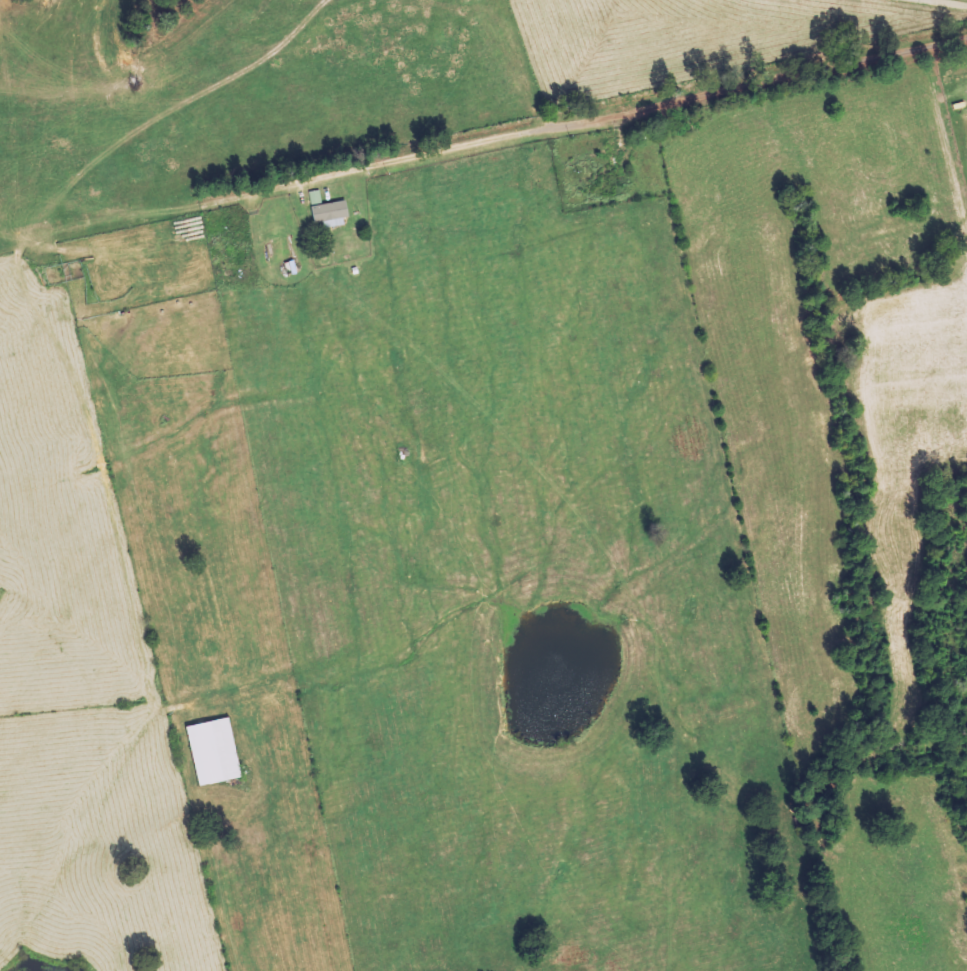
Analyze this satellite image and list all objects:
road: (493, 135)
building: (334, 212)
building: (217, 751)

